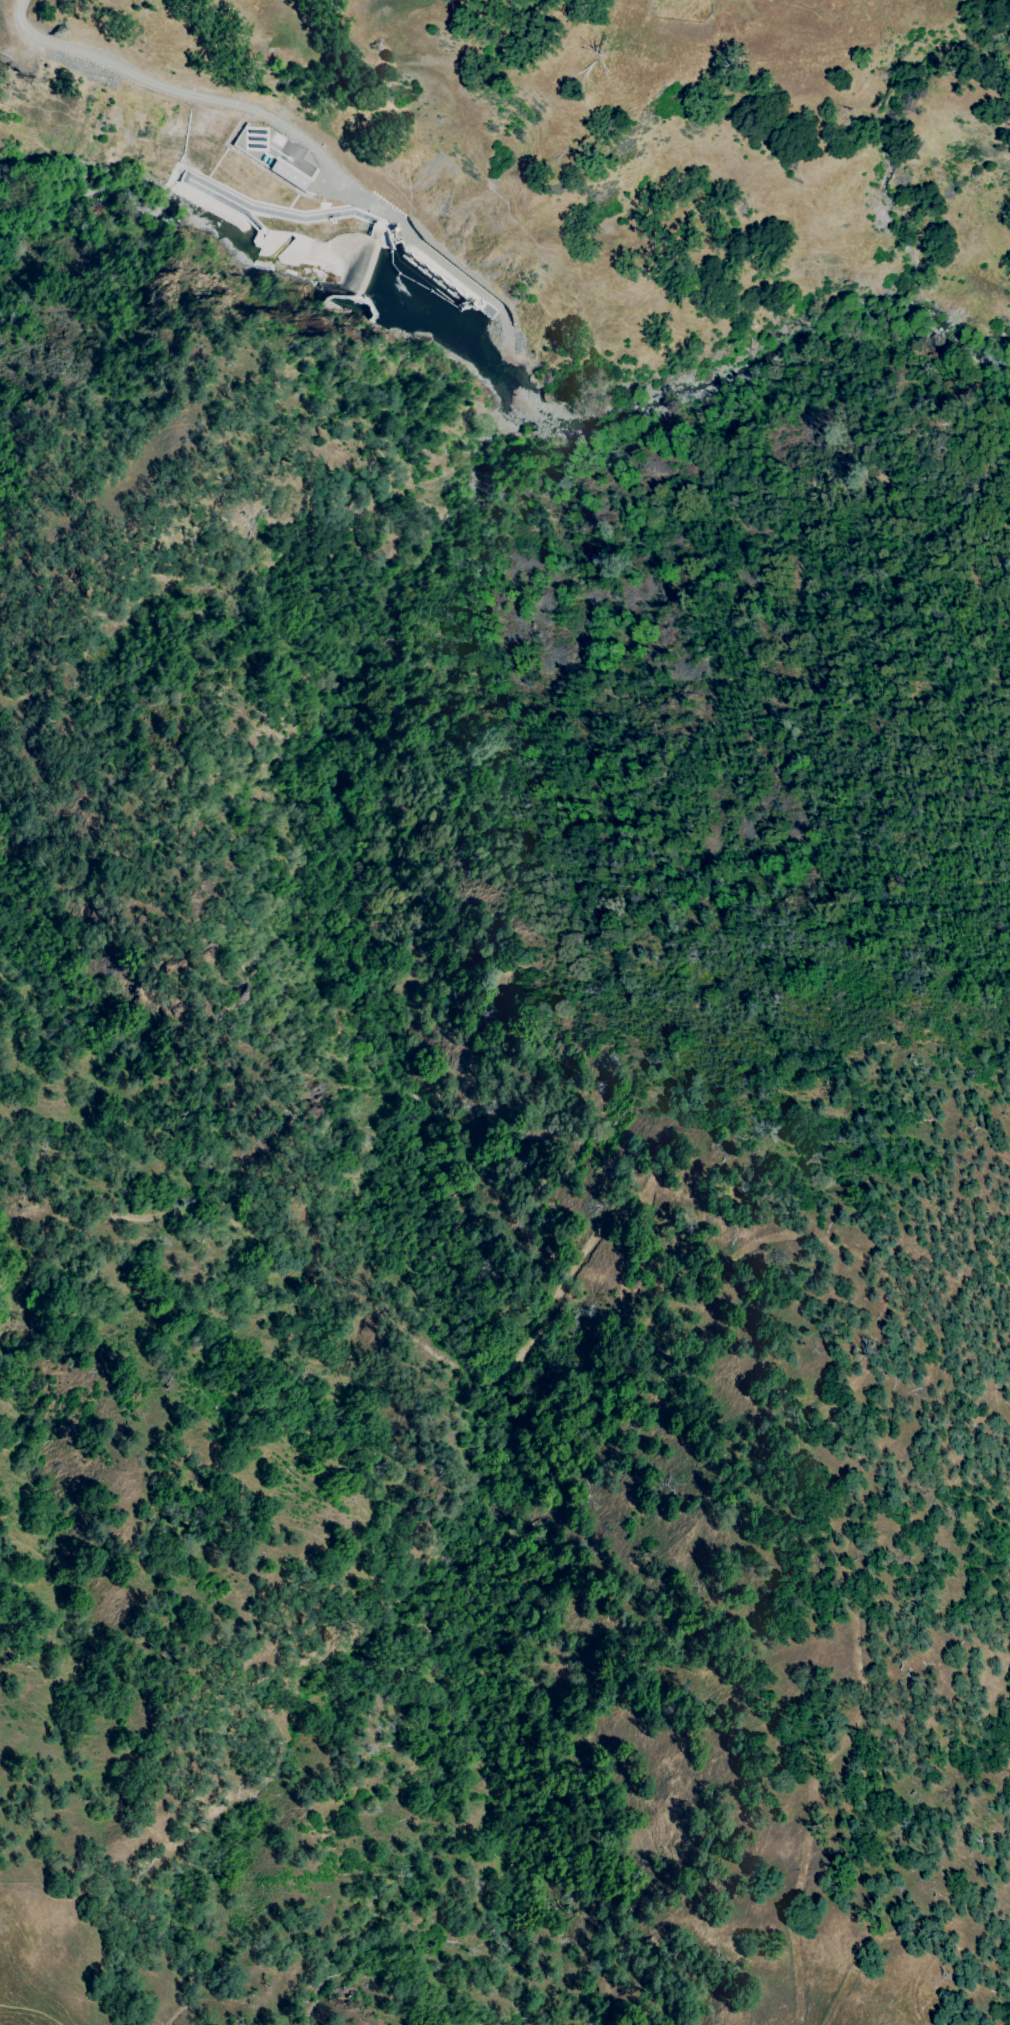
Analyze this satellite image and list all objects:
road: (178, 95)
building: (286, 174)
river: (187, 225)
dam: (333, 272)
river: (411, 305)
river: (481, 363)

